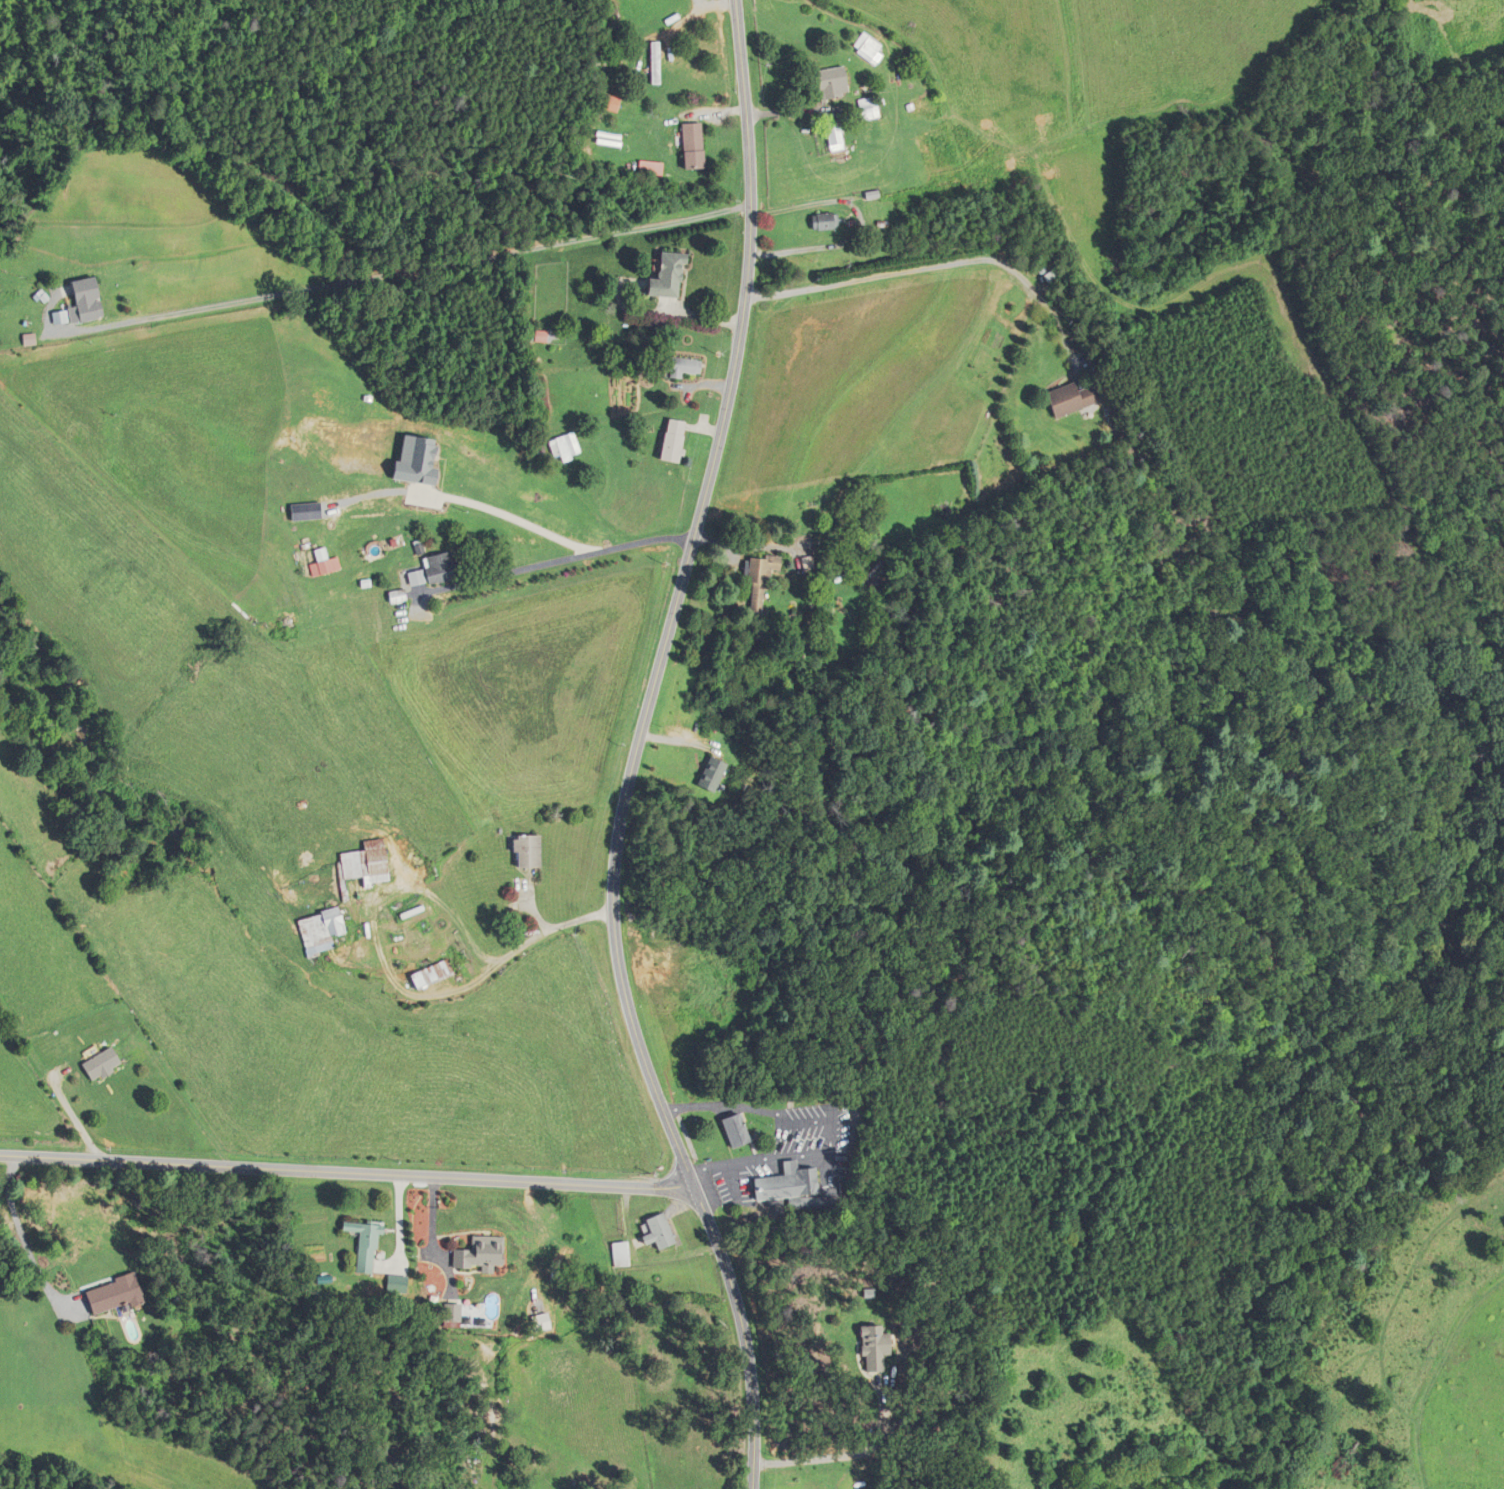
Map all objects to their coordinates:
building: (673, 15)
building: (864, 48)
building: (652, 63)
building: (827, 84)
building: (863, 88)
building: (916, 105)
building: (866, 108)
building: (929, 140)
building: (835, 142)
building: (688, 146)
building: (821, 221)
road: (441, 265)
road: (937, 266)
building: (662, 277)
building: (83, 312)
building: (537, 337)
building: (684, 368)
building: (1067, 400)
building: (670, 441)
building: (565, 448)
road: (512, 520)
road: (587, 554)
building: (437, 569)
building: (759, 581)
road: (638, 749)
building: (708, 776)
building: (529, 851)
building: (365, 866)
building: (321, 930)
building: (432, 974)
building: (104, 1066)
building: (735, 1131)
road: (348, 1173)
building: (787, 1183)
building: (657, 1232)
road: (24, 1242)
building: (363, 1245)
building: (477, 1254)
building: (622, 1254)
building: (115, 1296)
building: (450, 1313)
building: (876, 1347)
road: (844, 1457)

